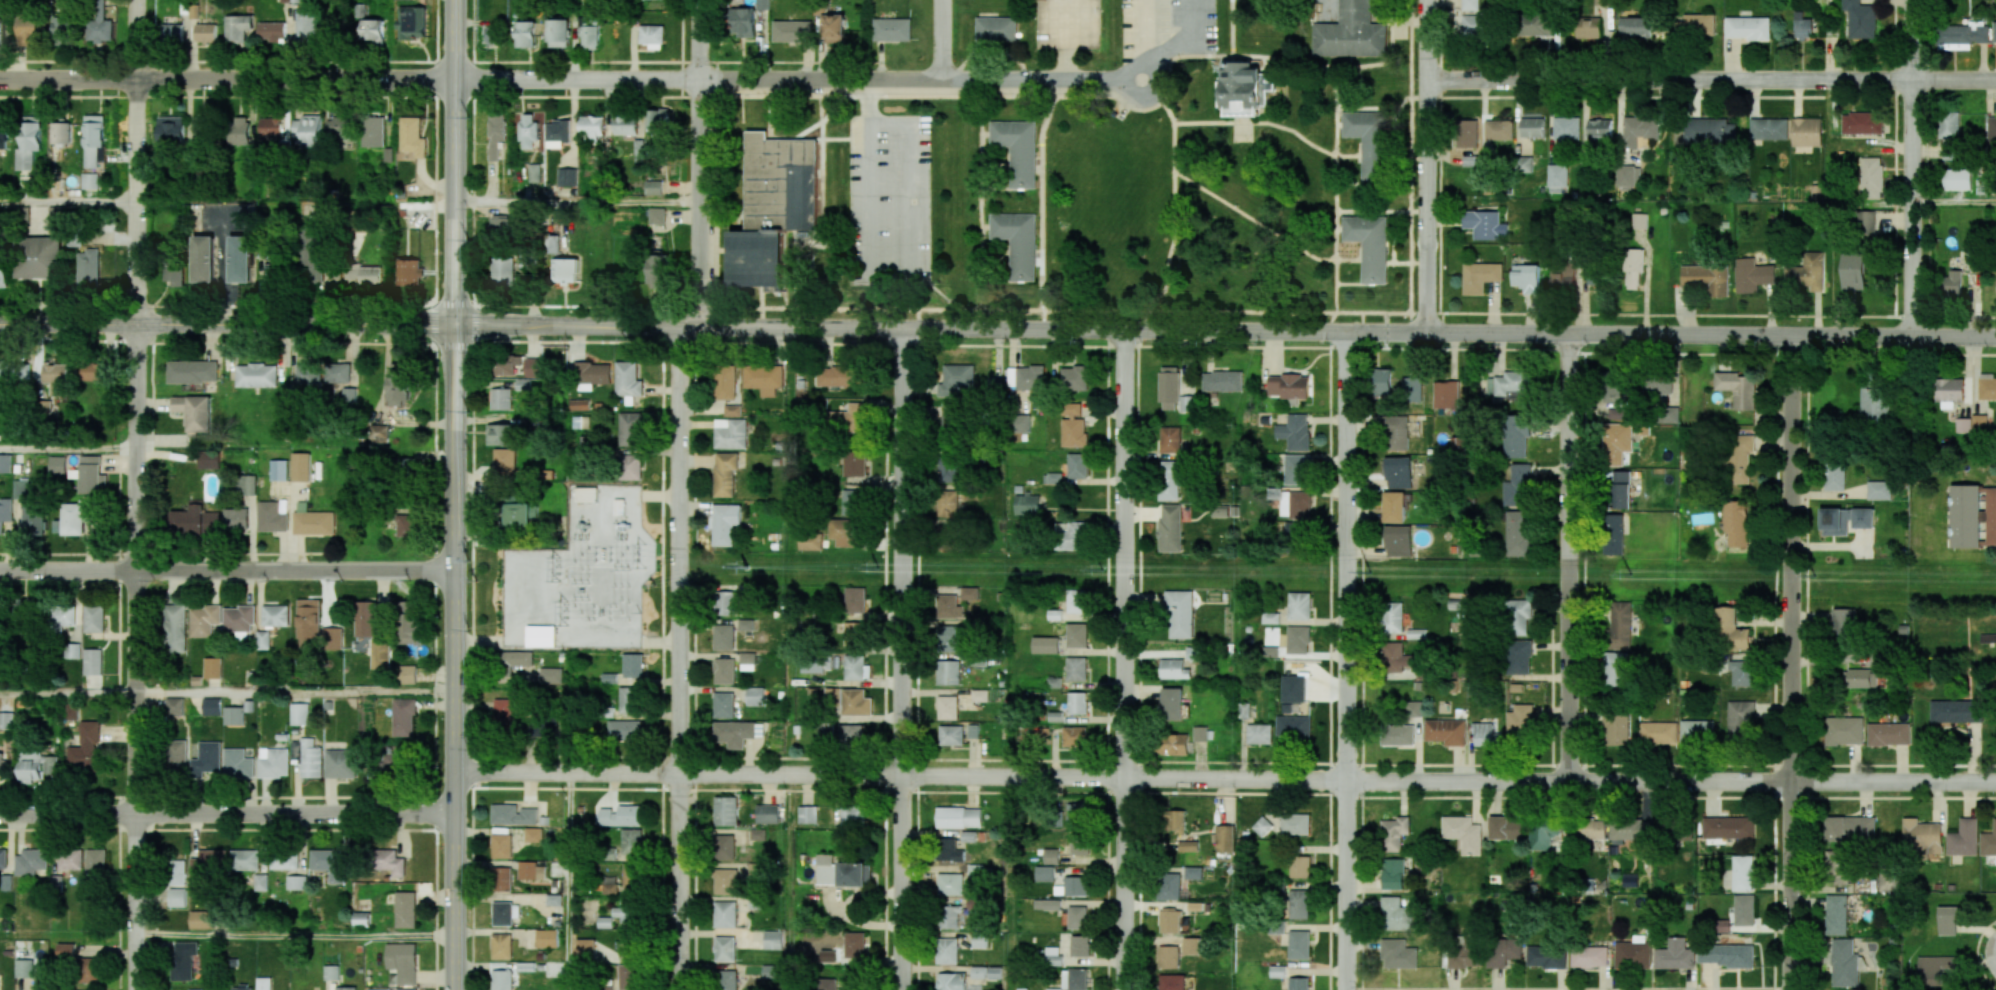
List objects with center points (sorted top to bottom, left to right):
building: (762, 4)
building: (1470, 5)
building: (1860, 19)
building: (743, 21)
building: (412, 22)
building: (1537, 23)
building: (98, 24)
building: (306, 24)
building: (1698, 24)
building: (1473, 25)
building: (1634, 26)
building: (1802, 26)
building: (29, 27)
building: (62, 27)
building: (237, 27)
building: (1588, 27)
building: (834, 28)
building: (995, 28)
building: (1747, 28)
building: (892, 29)
road: (1145, 29)
building: (271, 30)
building: (373, 30)
building: (792, 31)
building: (1994, 31)
building: (171, 32)
building: (205, 32)
building: (558, 32)
building: (589, 32)
road: (1189, 33)
building: (1350, 33)
building: (1964, 33)
building: (0, 34)
building: (526, 34)
building: (491, 35)
building: (652, 36)
road: (943, 39)
road: (1066, 42)
road: (1150, 66)
road: (1711, 77)
road: (569, 79)
building: (1244, 89)
building: (657, 121)
building: (1862, 123)
building: (625, 125)
building: (1948, 125)
building: (591, 126)
building: (270, 127)
building: (1532, 127)
building: (1566, 127)
building: (3, 128)
building: (338, 128)
building: (1599, 128)
building: (203, 129)
building: (1638, 129)
building: (1769, 129)
building: (239, 130)
building: (528, 130)
building: (1498, 130)
building: (1708, 130)
building: (1991, 130)
building: (172, 131)
building: (308, 131)
building: (373, 131)
building: (1806, 132)
building: (62, 133)
building: (556, 133)
building: (1468, 133)
building: (496, 134)
building: (411, 137)
building: (93, 138)
building: (1367, 140)
building: (29, 141)
building: (1017, 150)
road: (137, 162)
road: (699, 163)
building: (1523, 164)
road: (1428, 166)
road: (1913, 168)
building: (534, 172)
building: (1557, 175)
building: (1628, 175)
building: (567, 177)
building: (1871, 178)
building: (1957, 179)
building: (90, 180)
building: (654, 187)
road: (1954, 200)
road: (68, 202)
road: (577, 205)
building: (774, 207)
building: (657, 215)
building: (1639, 221)
building: (1865, 222)
building: (502, 225)
building: (1485, 225)
building: (1017, 242)
building: (552, 243)
building: (1368, 245)
building: (38, 257)
building: (241, 258)
building: (204, 259)
building: (1633, 267)
building: (89, 268)
building: (658, 268)
building: (565, 270)
building: (3, 271)
building: (503, 271)
building: (1853, 271)
building: (271, 272)
building: (408, 272)
building: (1807, 272)
building: (364, 273)
building: (173, 274)
building: (1752, 275)
building: (1479, 276)
building: (1562, 276)
building: (1592, 277)
road: (889, 278)
building: (1526, 278)
building: (1707, 278)
building: (1953, 282)
road: (390, 307)
traffic signals: (456, 325)
road: (998, 328)
building: (507, 365)
building: (533, 367)
building: (11, 370)
building: (192, 370)
building: (93, 371)
building: (592, 372)
building: (343, 373)
building: (307, 374)
building: (256, 375)
building: (840, 376)
building: (55, 377)
building: (1025, 377)
building: (763, 378)
building: (1074, 378)
building: (955, 379)
building: (1222, 380)
building: (1381, 380)
building: (627, 381)
building: (725, 382)
building: (400, 383)
building: (1511, 384)
building: (994, 385)
building: (1658, 385)
building: (1288, 386)
building: (1613, 386)
building: (1987, 386)
building: (1738, 387)
building: (1169, 388)
building: (1411, 389)
building: (1948, 391)
building: (349, 394)
building: (1447, 394)
building: (501, 399)
building: (1872, 401)
building: (578, 404)
building: (1186, 404)
building: (732, 410)
building: (194, 413)
building: (1669, 414)
building: (846, 418)
building: (945, 419)
building: (1979, 422)
building: (1022, 423)
building: (1073, 425)
building: (1963, 425)
building: (629, 428)
building: (1294, 431)
building: (378, 433)
building: (730, 433)
building: (1395, 433)
building: (502, 434)
building: (1516, 435)
building: (1170, 439)
building: (1617, 442)
road: (68, 449)
building: (1739, 457)
building: (208, 459)
building: (504, 461)
building: (6, 463)
building: (854, 463)
building: (406, 464)
building: (56, 465)
building: (1077, 465)
building: (300, 466)
building: (630, 467)
building: (948, 469)
building: (1295, 469)
building: (278, 470)
building: (1398, 472)
building: (725, 473)
building: (90, 474)
building: (1834, 477)
building: (1169, 480)
building: (246, 484)
building: (1518, 486)
building: (22, 488)
building: (1620, 489)
building: (1878, 490)
building: (584, 493)
road: (456, 495)
building: (853, 501)
building: (946, 503)
building: (1027, 504)
building: (1294, 504)
building: (1393, 506)
building: (616, 507)
building: (5, 511)
building: (520, 512)
building: (1966, 516)
building: (1990, 516)
building: (271, 517)
building: (236, 518)
building: (1863, 518)
building: (34, 519)
building: (71, 519)
building: (194, 520)
building: (1835, 522)
building: (314, 523)
building: (725, 523)
building: (1736, 523)
building: (405, 524)
building: (1170, 527)
building: (1293, 529)
building: (845, 532)
building: (1518, 533)
building: (1614, 534)
building: (1070, 535)
building: (1397, 540)
building: (809, 541)
power tower: (641, 554)
road: (1570, 557)
power tower: (470, 561)
power tower: (555, 567)
power tower: (747, 567)
power tower: (878, 567)
road: (228, 570)
power tower: (1102, 570)
power tower: (1371, 572)
power tower: (1631, 575)
power substation: (582, 576)
power tower: (1815, 576)
power tower: (655, 585)
building: (855, 600)
building: (1077, 601)
building: (726, 602)
building: (1457, 604)
building: (947, 606)
building: (1299, 606)
power tower: (564, 611)
building: (1179, 614)
building: (64, 615)
building: (275, 615)
building: (1519, 616)
building: (1392, 617)
building: (94, 618)
building: (238, 618)
building: (1269, 618)
building: (309, 619)
building: (366, 619)
building: (203, 620)
building: (409, 622)
building: (1844, 623)
building: (1619, 625)
building: (174, 628)
building: (1731, 630)
power tower: (470, 631)
building: (854, 634)
building: (538, 635)
building: (1076, 635)
building: (725, 637)
building: (332, 638)
building: (949, 638)
building: (1297, 639)
building: (262, 640)
building: (1270, 642)
building: (1045, 645)
building: (72, 650)
building: (380, 655)
road: (137, 657)
building: (1395, 657)
building: (1519, 657)
building: (516, 658)
road: (679, 658)
road: (903, 659)
road: (1125, 660)
road: (1347, 660)
building: (92, 661)
building: (747, 661)
road: (1792, 663)
building: (632, 665)
building: (212, 667)
building: (854, 667)
building: (1617, 668)
building: (1076, 669)
building: (1174, 669)
building: (724, 671)
building: (948, 672)
building: (1742, 672)
building: (405, 674)
building: (550, 675)
building: (1862, 678)
building: (1054, 682)
building: (1293, 689)
road: (68, 692)
road: (296, 692)
building: (979, 695)
building: (755, 696)
building: (629, 699)
building: (856, 702)
building: (1077, 702)
building: (1172, 703)
building: (213, 705)
building: (723, 705)
building: (175, 706)
building: (947, 707)
building: (1414, 709)
building: (1244, 710)
building: (1954, 711)
building: (502, 712)
building: (301, 713)
building: (235, 715)
building: (404, 717)
building: (1740, 719)
building: (6, 720)
building: (1520, 720)
building: (544, 724)
building: (1293, 727)
building: (624, 729)
building: (1616, 729)
building: (1844, 730)
building: (1446, 731)
building: (1697, 731)
building: (1658, 732)
building: (733, 733)
building: (1199, 733)
building: (1259, 733)
building: (851, 734)
building: (1397, 734)
building: (1485, 734)
building: (1888, 734)
building: (951, 735)
building: (283, 736)
building: (1074, 737)
building: (1174, 744)
building: (86, 747)
building: (176, 755)
building: (307, 757)
building: (206, 759)
building: (273, 762)
building: (237, 763)
building: (340, 763)
building: (396, 764)
building: (1, 765)
building: (36, 766)
road: (1225, 777)
building: (725, 811)
road: (228, 814)
building: (513, 814)
building: (767, 814)
building: (807, 814)
building: (853, 814)
building: (1076, 814)
building: (622, 815)
building: (959, 817)
building: (1175, 821)
building: (1294, 824)
building: (1262, 826)
building: (1666, 826)
building: (1506, 827)
building: (1728, 827)
building: (1849, 828)
building: (1584, 829)
building: (1629, 830)
building: (1394, 833)
building: (1463, 833)
building: (534, 834)
building: (757, 834)
building: (1543, 835)
building: (1921, 836)
building: (1225, 838)
building: (1963, 838)
building: (631, 841)
building: (1988, 842)
building: (1079, 844)
building: (501, 845)
building: (1188, 846)
building: (724, 847)
building: (949, 850)
building: (1050, 856)
building: (3, 858)
building: (69, 860)
building: (30, 861)
building: (95, 861)
building: (209, 861)
building: (284, 861)
building: (389, 861)
building: (330, 863)
building: (1299, 866)
building: (755, 868)
building: (1836, 868)
building: (530, 870)
building: (177, 872)
building: (841, 872)
building: (1193, 872)
building: (1044, 873)
building: (1393, 873)
building: (1742, 873)
building: (630, 875)
building: (502, 878)
building: (1629, 880)
building: (725, 881)
building: (6, 882)
building: (297, 882)
road: (568, 882)
building: (950, 884)
building: (1076, 885)
building: (1169, 886)
building: (177, 898)
building: (553, 900)
building: (756, 902)
building: (1047, 904)
building: (1298, 904)
building: (405, 909)
building: (626, 910)
building: (1744, 910)
building: (502, 913)
building: (725, 914)
building: (1397, 914)
building: (1836, 914)
building: (953, 917)
building: (1077, 917)
building: (201, 919)
building: (362, 919)
building: (1948, 919)
building: (1170, 921)
road: (68, 936)
road: (296, 936)
building: (547, 938)
building: (772, 939)
building: (979, 940)
building: (627, 943)
building: (854, 944)
building: (1299, 944)
building: (1080, 945)
building: (1191, 945)
building: (501, 946)
building: (724, 948)
building: (585, 949)
building: (65, 950)
building: (946, 950)
building: (1503, 951)
building: (1633, 953)
building: (1398, 954)
building: (1675, 955)
building: (1726, 955)
building: (1053, 956)
building: (1169, 956)
building: (1463, 956)
building: (1546, 956)
building: (1589, 956)
building: (184, 959)
building: (402, 962)
building: (1844, 963)
building: (24, 968)
building: (89, 969)
building: (1937, 970)
building: (770, 971)
building: (978, 971)
building: (1277, 971)
building: (331, 972)
building: (994, 972)
building: (627, 977)
building: (1074, 979)
building: (502, 980)
building: (726, 980)
building: (841, 980)
building: (951, 981)
building: (1172, 982)
building: (263, 983)
building: (1298, 983)
building: (242, 988)
building: (346, 988)
building: (196, 989)
building: (379, 989)
building: (406, 989)
building: (1054, 989)

